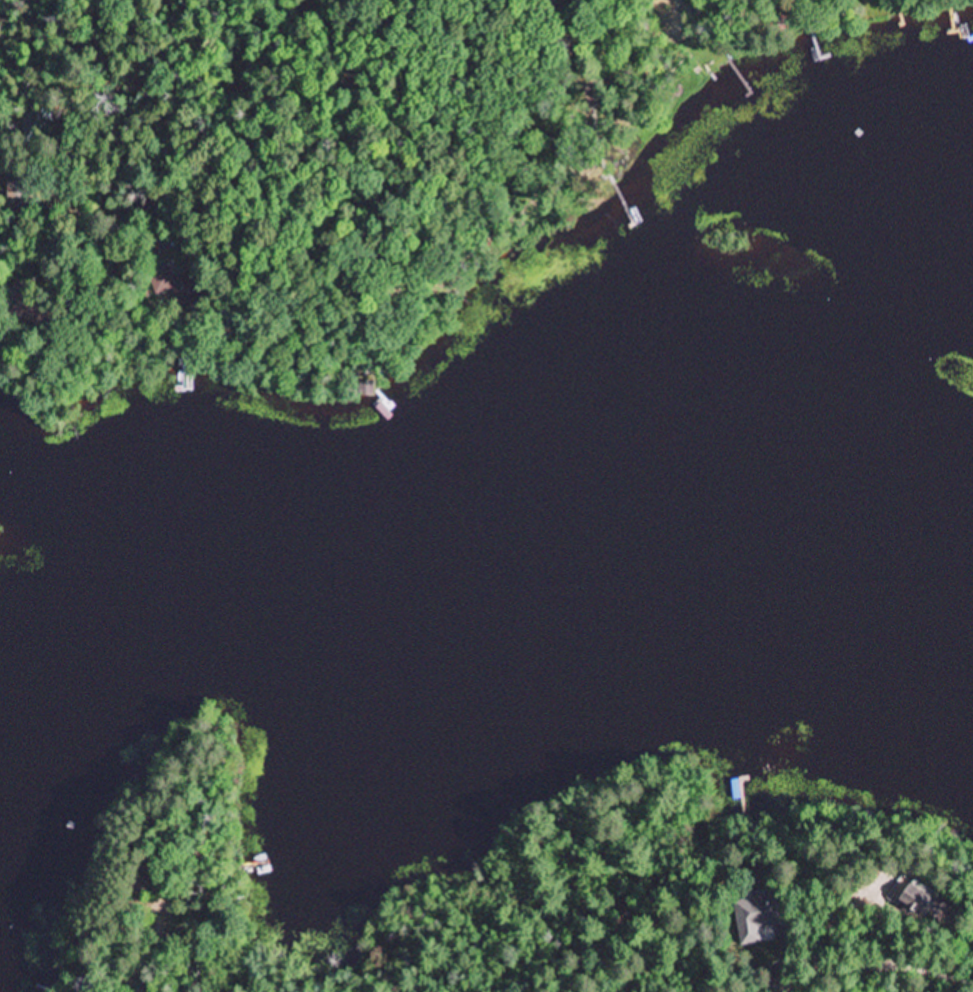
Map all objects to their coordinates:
road: (285, 120)
building: (16, 185)
building: (175, 289)
building: (20, 300)
building: (921, 900)
building: (757, 917)
road: (872, 963)
road: (147, 964)

